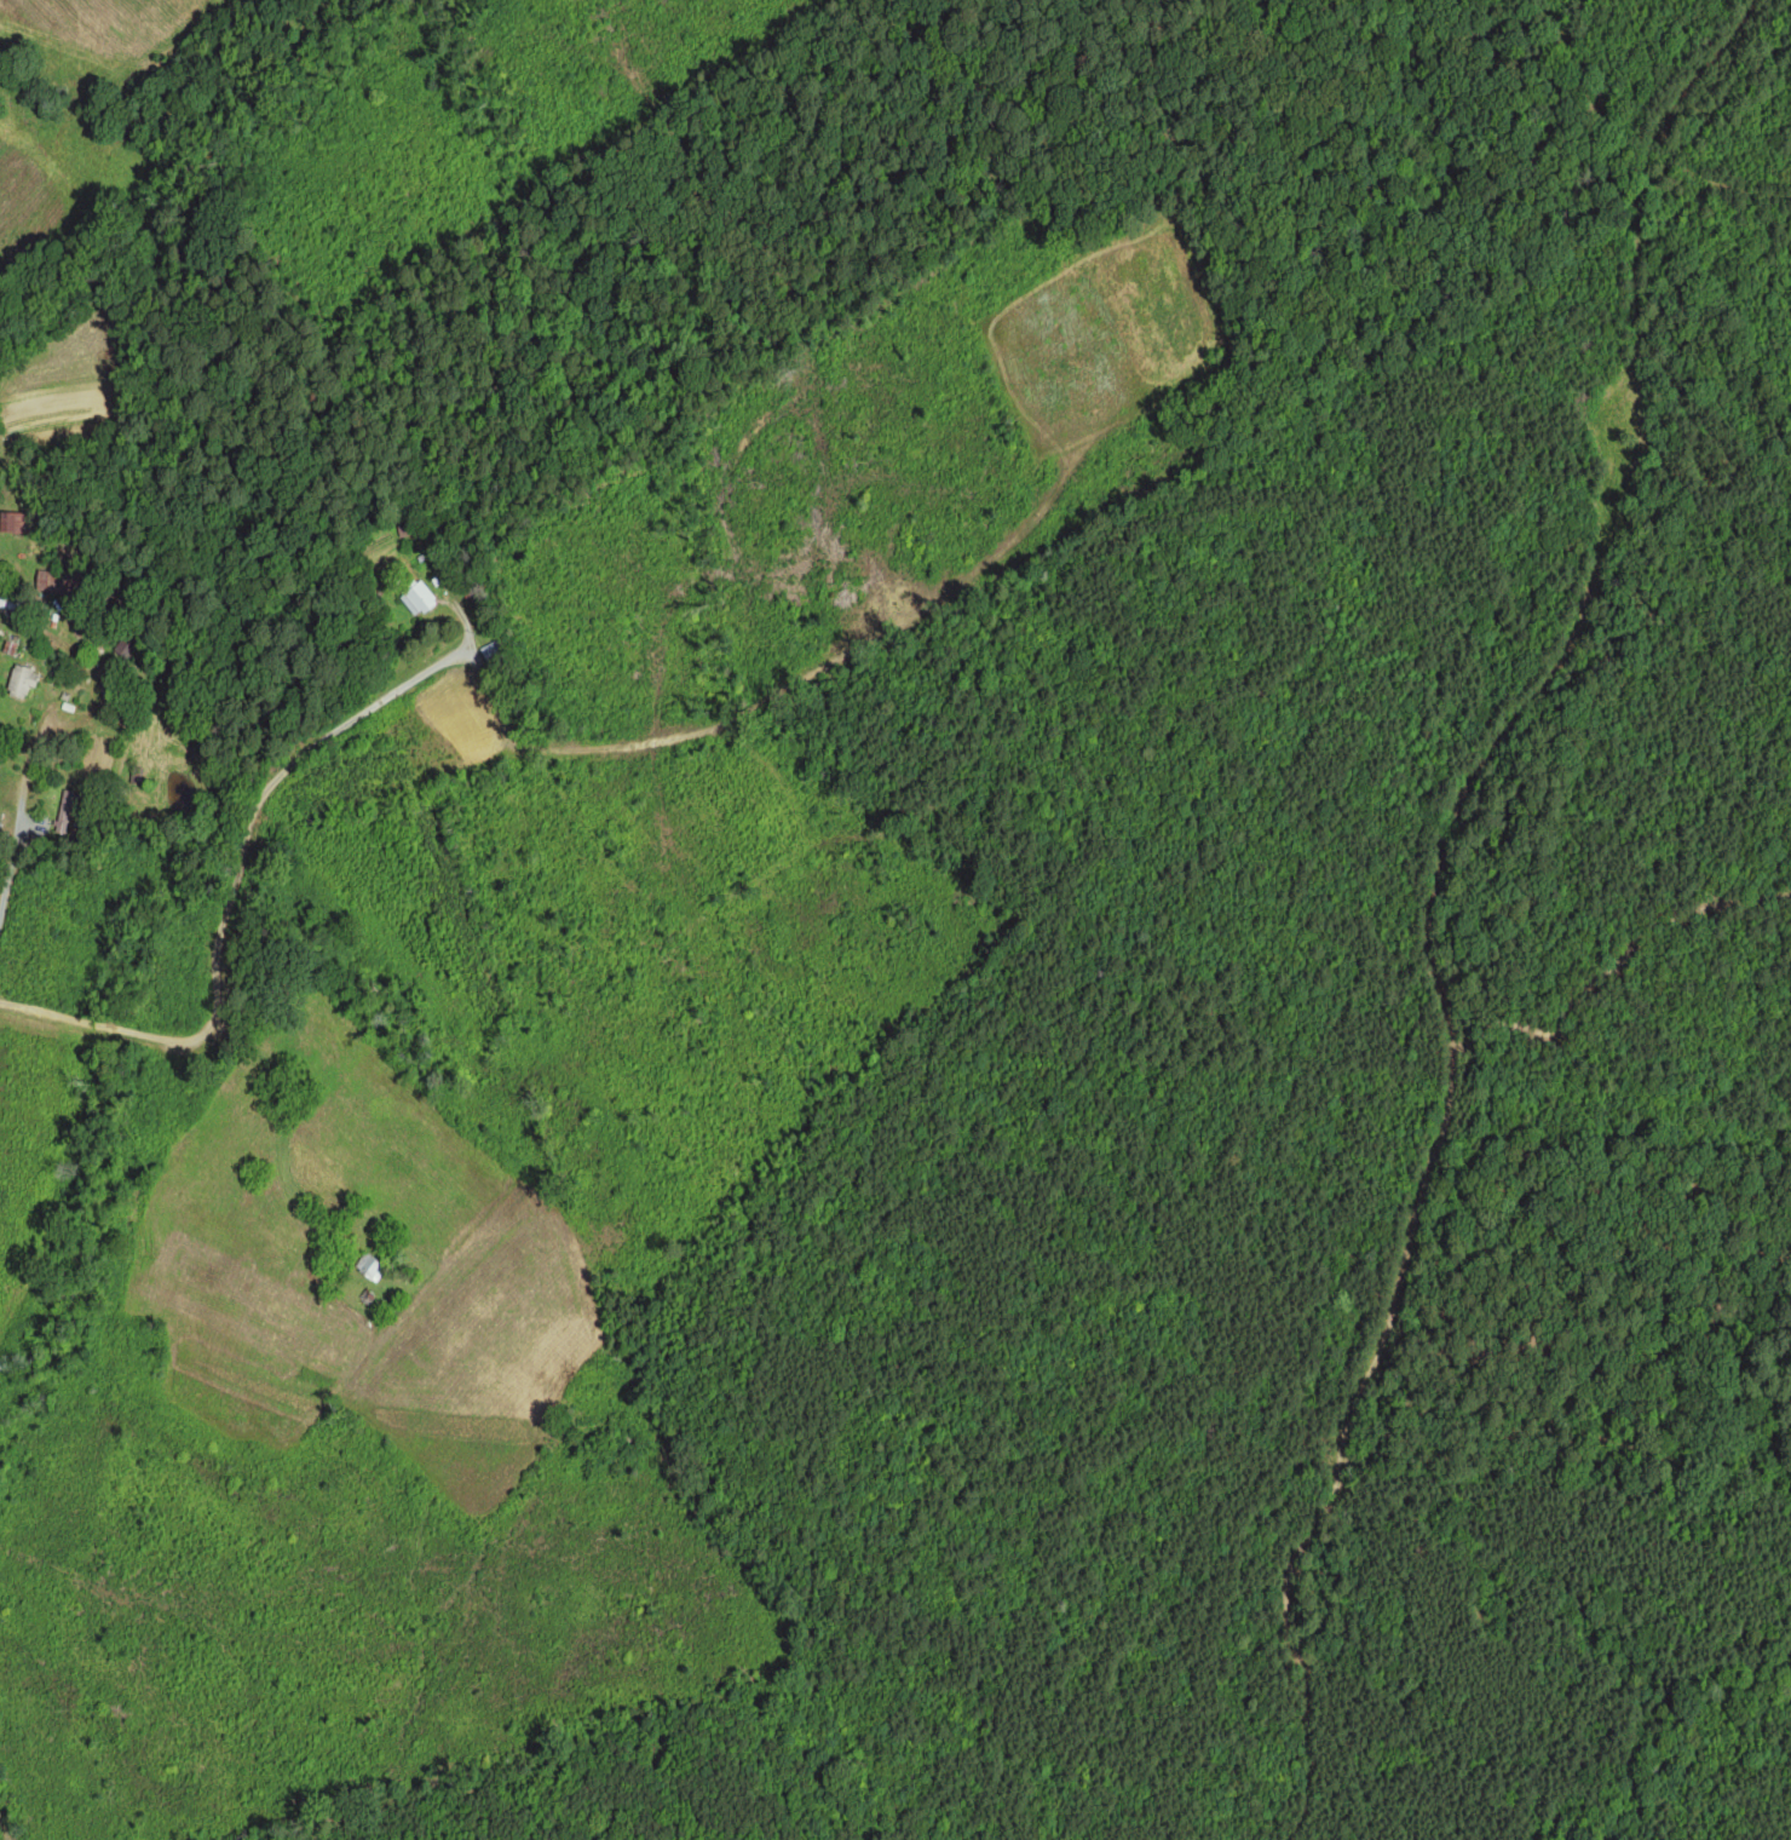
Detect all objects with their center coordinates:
building: (11, 522)
building: (46, 580)
building: (416, 598)
building: (19, 680)
road: (12, 845)

